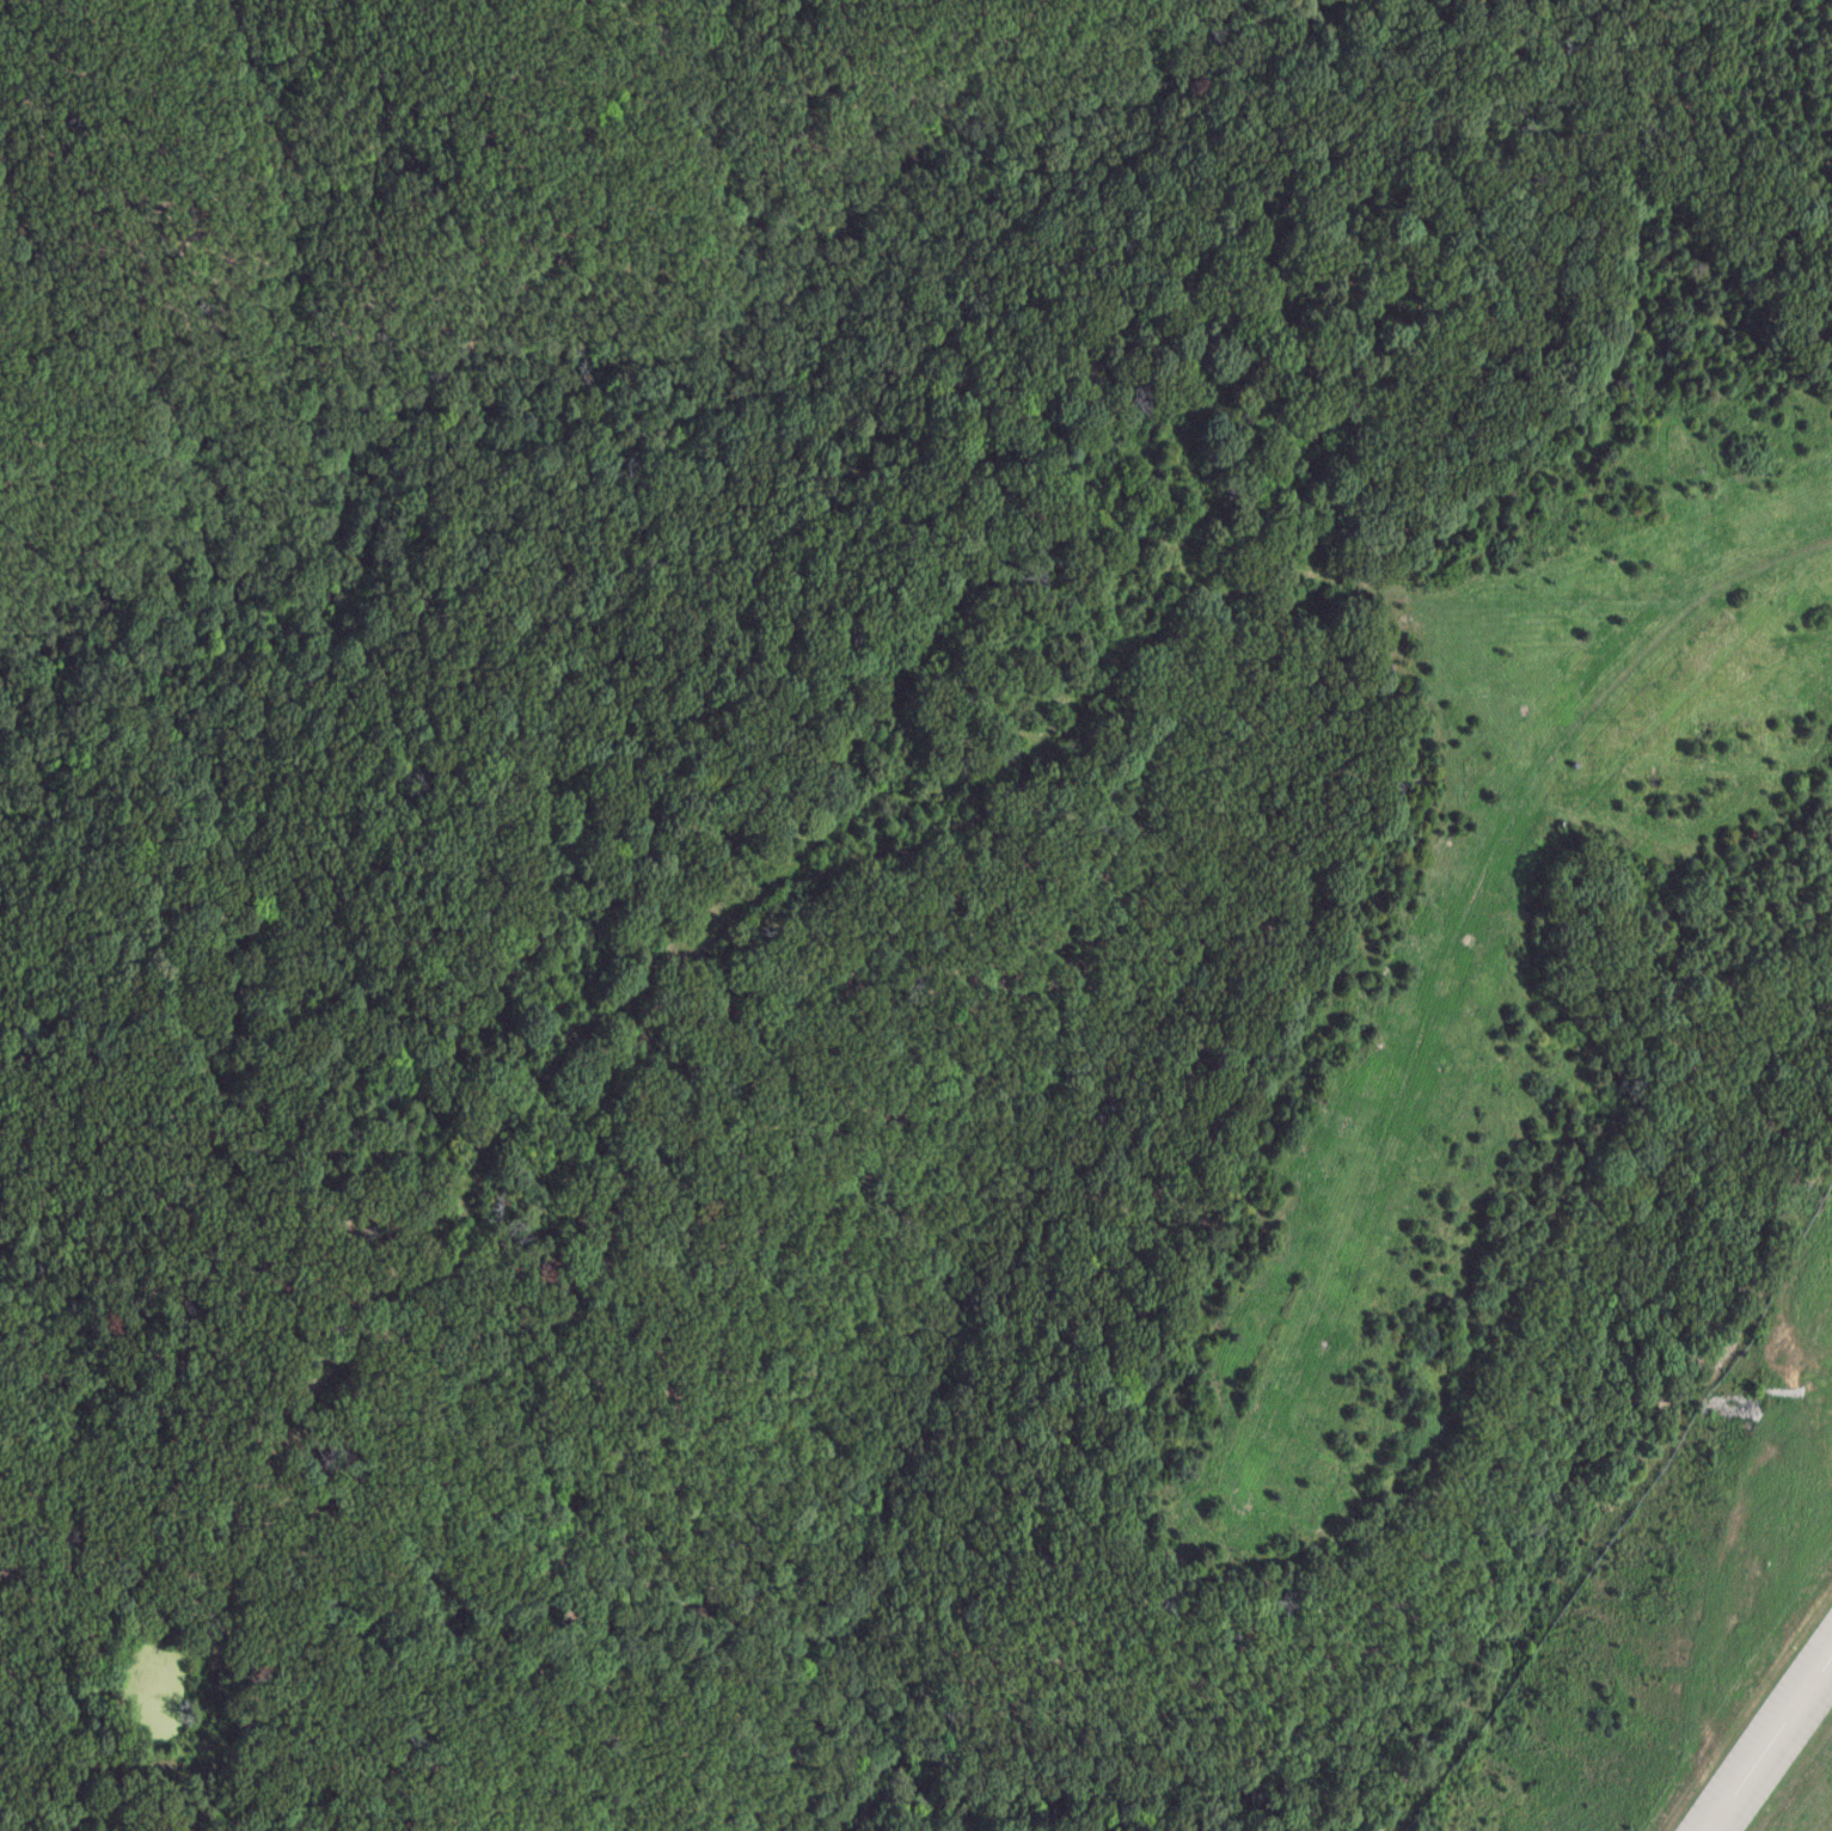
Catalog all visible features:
airport runway: (1773, 1751)

